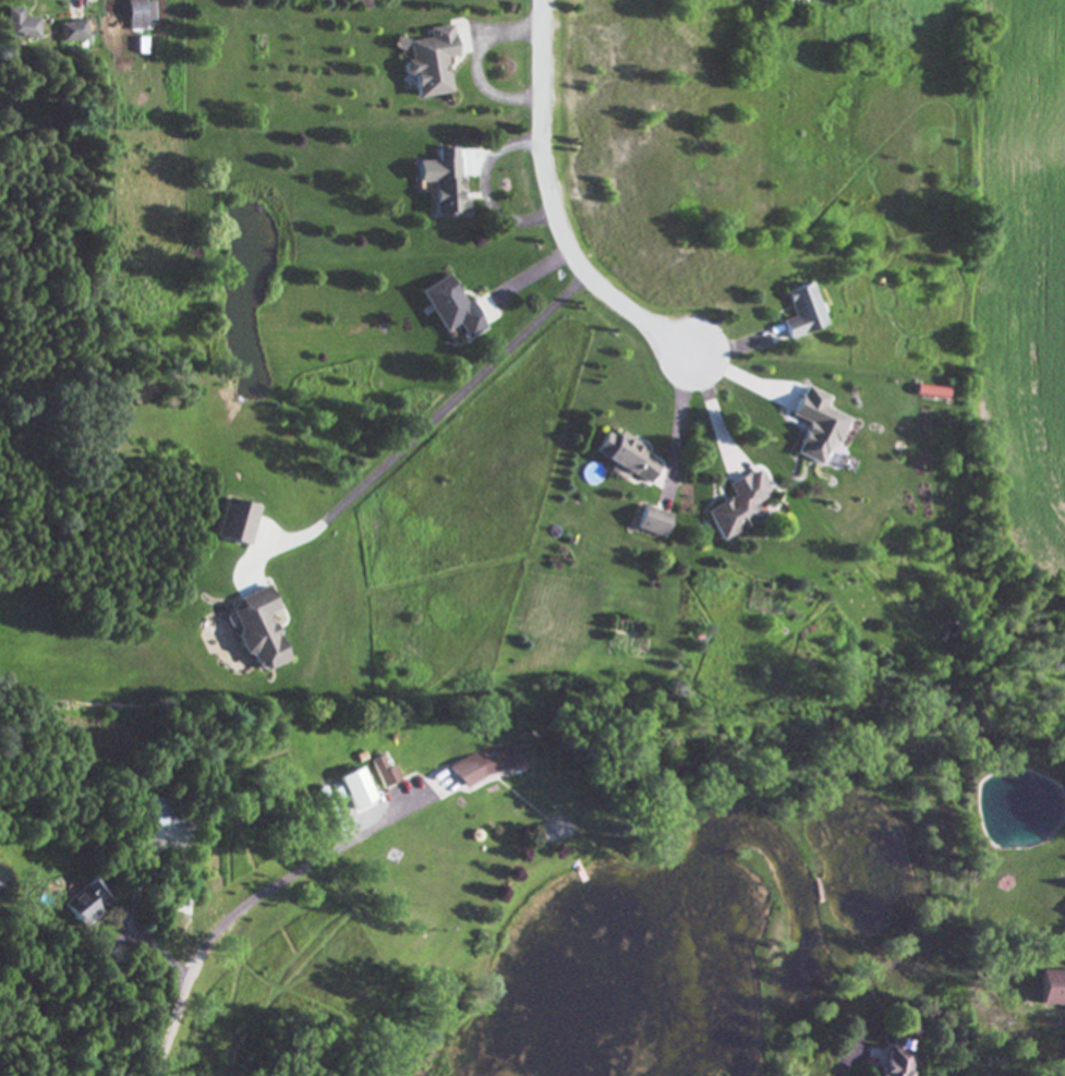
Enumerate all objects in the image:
building: (137, 14)
building: (17, 25)
building: (71, 32)
building: (431, 62)
road: (482, 62)
building: (441, 182)
road: (487, 190)
road: (557, 205)
road: (540, 271)
building: (449, 309)
building: (802, 312)
road: (694, 353)
road: (687, 373)
road: (431, 421)
building: (815, 426)
building: (625, 457)
building: (738, 507)
building: (233, 522)
building: (652, 522)
building: (255, 629)
building: (488, 764)
building: (384, 774)
building: (354, 789)
building: (156, 812)
building: (84, 903)
road: (229, 919)
building: (1052, 988)
road: (169, 1027)
road: (847, 1062)
building: (894, 1062)

